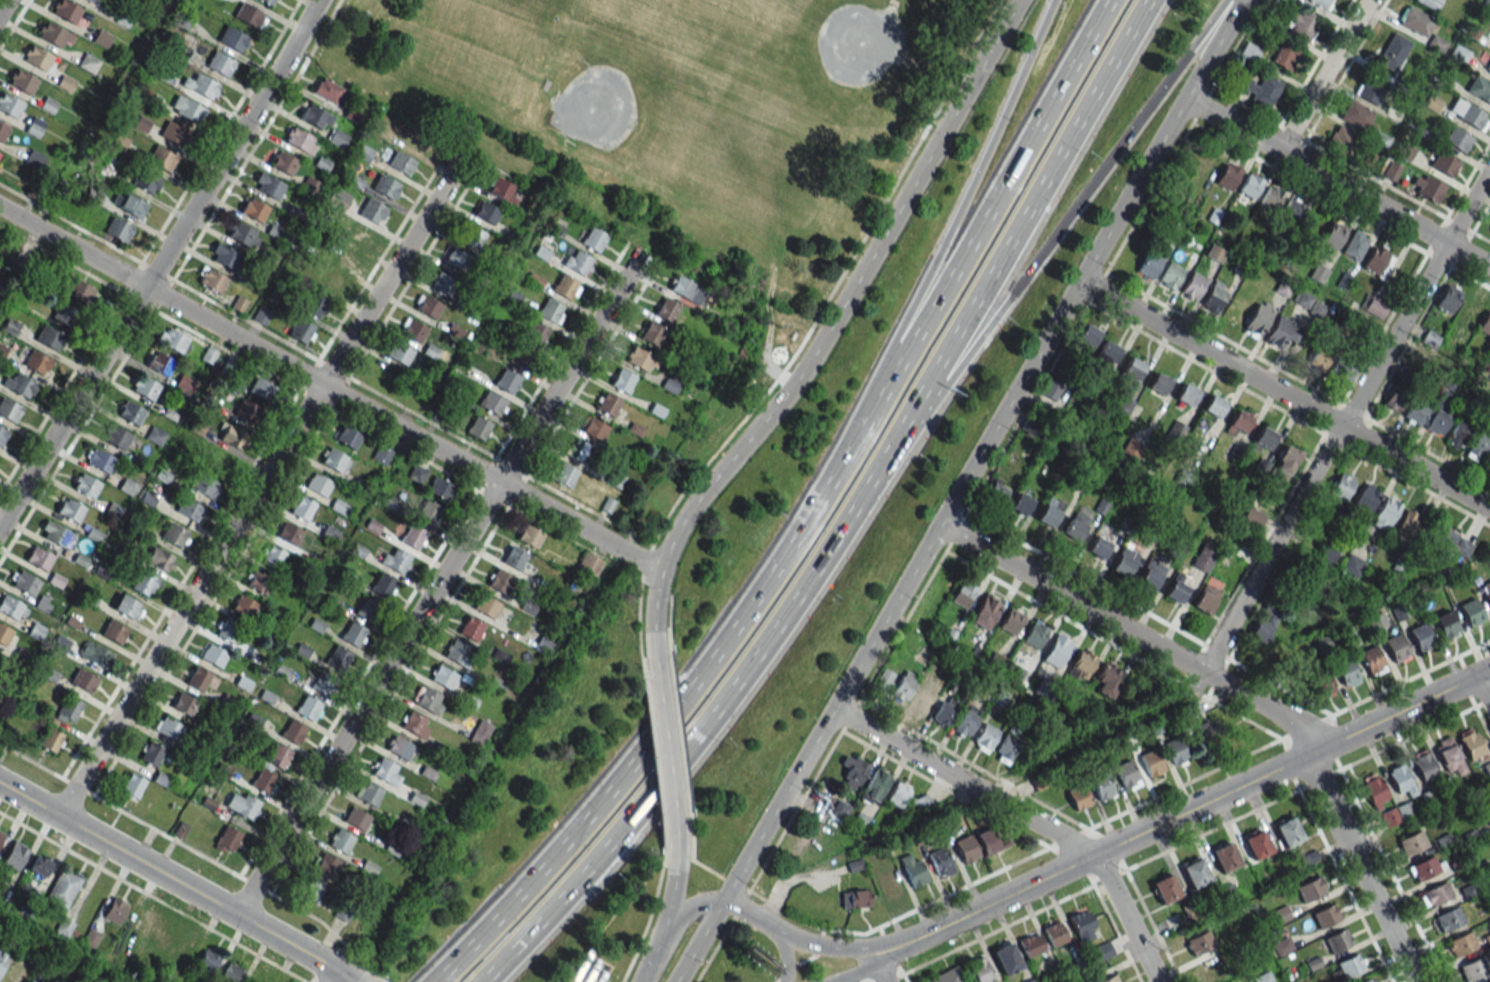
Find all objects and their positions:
building: (87, 0)
building: (265, 0)
building: (1320, 3)
building: (1428, 3)
road: (2, 4)
building: (67, 10)
building: (248, 14)
building: (1416, 21)
building: (1301, 24)
building: (52, 34)
building: (102, 38)
building: (231, 38)
building: (1437, 43)
park: (855, 44)
building: (1249, 51)
building: (1393, 52)
building: (1458, 54)
building: (1285, 55)
building: (37, 57)
building: (88, 62)
building: (219, 63)
building: (1488, 66)
road: (1323, 76)
building: (23, 81)
building: (203, 86)
building: (1259, 89)
building: (1479, 89)
building: (328, 90)
building: (1370, 90)
park: (598, 103)
building: (10, 105)
building: (187, 109)
building: (1469, 114)
park: (678, 115)
building: (315, 116)
building: (1358, 116)
building: (3, 131)
road: (219, 131)
building: (174, 133)
building: (337, 138)
building: (414, 139)
building: (1341, 139)
road: (256, 140)
building: (300, 140)
building: (1457, 140)
building: (1404, 151)
building: (161, 158)
building: (34, 159)
building: (283, 163)
building: (401, 163)
building: (1443, 164)
building: (1227, 176)
building: (142, 179)
road: (1337, 183)
building: (268, 185)
building: (1250, 185)
building: (309, 186)
building: (386, 186)
building: (1426, 187)
building: (501, 188)
building: (1271, 197)
building: (337, 199)
building: (129, 204)
building: (253, 209)
building: (373, 210)
building: (1291, 210)
building: (486, 212)
road: (949, 228)
road: (979, 228)
building: (118, 229)
road: (1016, 231)
road: (1056, 233)
building: (243, 235)
building: (1333, 235)
building: (471, 237)
building: (593, 239)
building: (1354, 245)
building: (541, 252)
building: (223, 256)
building: (343, 257)
building: (455, 259)
road: (161, 261)
building: (1378, 261)
building: (577, 262)
building: (1149, 265)
building: (1170, 276)
building: (211, 280)
building: (329, 281)
building: (441, 282)
building: (564, 286)
building: (1193, 286)
building: (686, 289)
building: (78, 290)
building: (1214, 297)
building: (1447, 298)
building: (238, 303)
building: (426, 305)
building: (315, 306)
building: (1373, 306)
building: (1316, 308)
building: (666, 309)
building: (550, 310)
building: (64, 314)
building: (261, 315)
building: (1466, 315)
building: (1258, 318)
road: (247, 320)
building: (1485, 324)
building: (300, 330)
building: (412, 330)
building: (536, 332)
building: (1281, 332)
building: (652, 334)
road: (825, 335)
building: (1088, 335)
building: (49, 337)
building: (1430, 338)
building: (171, 339)
building: (1451, 350)
building: (1108, 351)
building: (399, 353)
building: (518, 359)
building: (641, 360)
building: (1317, 360)
building: (37, 362)
building: (159, 363)
building: (1345, 371)
building: (1130, 372)
road: (70, 376)
building: (506, 380)
building: (621, 382)
building: (1158, 383)
building: (19, 384)
building: (144, 387)
building: (261, 388)
building: (1050, 388)
road: (329, 389)
building: (1186, 394)
road: (1285, 394)
building: (1394, 399)
building: (491, 402)
building: (607, 403)
building: (1122, 404)
building: (1214, 406)
building: (9, 409)
building: (245, 411)
building: (1415, 411)
building: (130, 412)
road: (1345, 420)
building: (1238, 422)
building: (1436, 422)
building: (1029, 426)
building: (479, 427)
building: (594, 428)
building: (2, 434)
building: (1457, 434)
building: (155, 435)
building: (115, 436)
building: (348, 436)
building: (233, 438)
building: (1262, 440)
building: (1478, 447)
road: (982, 449)
building: (1131, 449)
building: (577, 450)
building: (383, 453)
building: (99, 460)
building: (335, 460)
building: (217, 461)
road: (254, 461)
building: (1281, 469)
building: (416, 474)
building: (563, 474)
building: (1184, 478)
road: (285, 479)
building: (614, 479)
building: (318, 484)
building: (85, 485)
building: (204, 486)
road: (259, 486)
building: (1342, 486)
building: (440, 488)
building: (997, 489)
building: (1365, 498)
building: (1020, 503)
building: (302, 507)
building: (70, 509)
building: (189, 509)
building: (1049, 511)
building: (429, 512)
building: (1385, 513)
building: (1252, 518)
building: (1408, 523)
building: (1076, 524)
building: (287, 532)
building: (330, 532)
building: (174, 533)
building: (56, 534)
building: (530, 535)
building: (413, 536)
building: (1450, 540)
building: (1098, 545)
building: (271, 555)
building: (514, 557)
building: (1204, 557)
building: (39, 558)
building: (159, 559)
building: (395, 559)
building: (1124, 561)
building: (589, 563)
building: (1351, 564)
building: (1150, 574)
building: (24, 581)
building: (500, 581)
building: (258, 582)
building: (143, 583)
road: (438, 583)
building: (383, 585)
building: (1177, 587)
building: (1486, 591)
building: (962, 593)
building: (1206, 598)
building: (242, 605)
building: (486, 605)
building: (12, 607)
building: (128, 607)
building: (368, 609)
building: (984, 611)
building: (1471, 611)
building: (1009, 620)
building: (1376, 621)
building: (1446, 623)
building: (1264, 624)
building: (470, 627)
building: (226, 630)
building: (113, 631)
road: (637, 631)
building: (353, 633)
building: (1034, 634)
building: (1420, 636)
building: (1396, 647)
building: (1056, 650)
building: (92, 652)
building: (457, 653)
building: (213, 654)
building: (337, 659)
building: (1371, 659)
building: (1080, 664)
building: (1345, 672)
building: (443, 676)
building: (197, 678)
building: (882, 679)
building: (1106, 679)
building: (83, 680)
building: (321, 684)
building: (1320, 684)
building: (902, 686)
road: (1483, 689)
road: (1242, 694)
building: (427, 699)
building: (922, 699)
building: (184, 703)
building: (307, 707)
building: (67, 710)
building: (941, 714)
building: (964, 722)
building: (415, 723)
building: (167, 727)
building: (292, 731)
road: (657, 731)
building: (480, 732)
building: (1208, 732)
road: (696, 734)
building: (984, 736)
building: (50, 739)
building: (1470, 743)
building: (400, 747)
building: (1006, 748)
road: (666, 749)
building: (1176, 750)
building: (151, 753)
building: (278, 755)
building: (1448, 756)
building: (1151, 762)
road: (654, 764)
building: (1423, 765)
building: (1487, 768)
building: (386, 770)
building: (851, 772)
building: (1126, 774)
building: (1040, 775)
building: (1400, 779)
building: (263, 780)
building: (874, 784)
building: (132, 785)
building: (1101, 787)
building: (1374, 790)
building: (368, 792)
road: (978, 792)
building: (906, 797)
building: (1078, 797)
building: (243, 804)
road: (1184, 813)
building: (1395, 813)
road: (1025, 815)
building: (1487, 815)
building: (356, 818)
building: (1289, 831)
building: (1, 834)
building: (1489, 836)
building: (227, 839)
building: (340, 840)
building: (990, 841)
building: (1411, 842)
building: (1257, 844)
building: (966, 848)
road: (197, 851)
building: (15, 855)
building: (1225, 857)
building: (940, 862)
building: (326, 863)
building: (39, 865)
building: (1424, 868)
building: (912, 869)
building: (1195, 873)
road: (672, 876)
road: (177, 882)
building: (888, 884)
building: (62, 887)
building: (1165, 888)
building: (1310, 889)
building: (311, 891)
building: (1435, 894)
road: (152, 897)
building: (854, 898)
road: (691, 904)
building: (115, 910)
road: (648, 915)
building: (1325, 915)
building: (1449, 918)
building: (141, 923)
building: (1082, 925)
building: (1054, 933)
building: (160, 934)
road: (698, 939)
road: (796, 939)
building: (1338, 940)
building: (1199, 942)
building: (1031, 944)
building: (1461, 944)
building: (182, 949)
building: (1102, 951)
road: (652, 952)
road: (784, 958)
building: (1006, 958)
building: (3, 959)
building: (207, 960)
building: (1346, 967)
building: (1209, 968)
building: (1473, 968)
road: (885, 969)
building: (980, 970)
road: (857, 971)
building: (231, 972)
road: (587, 975)
building: (12, 976)
building: (945, 976)
building: (1263, 977)
road: (342, 979)
building: (1110, 979)
building: (1366, 980)
building: (30, 981)

